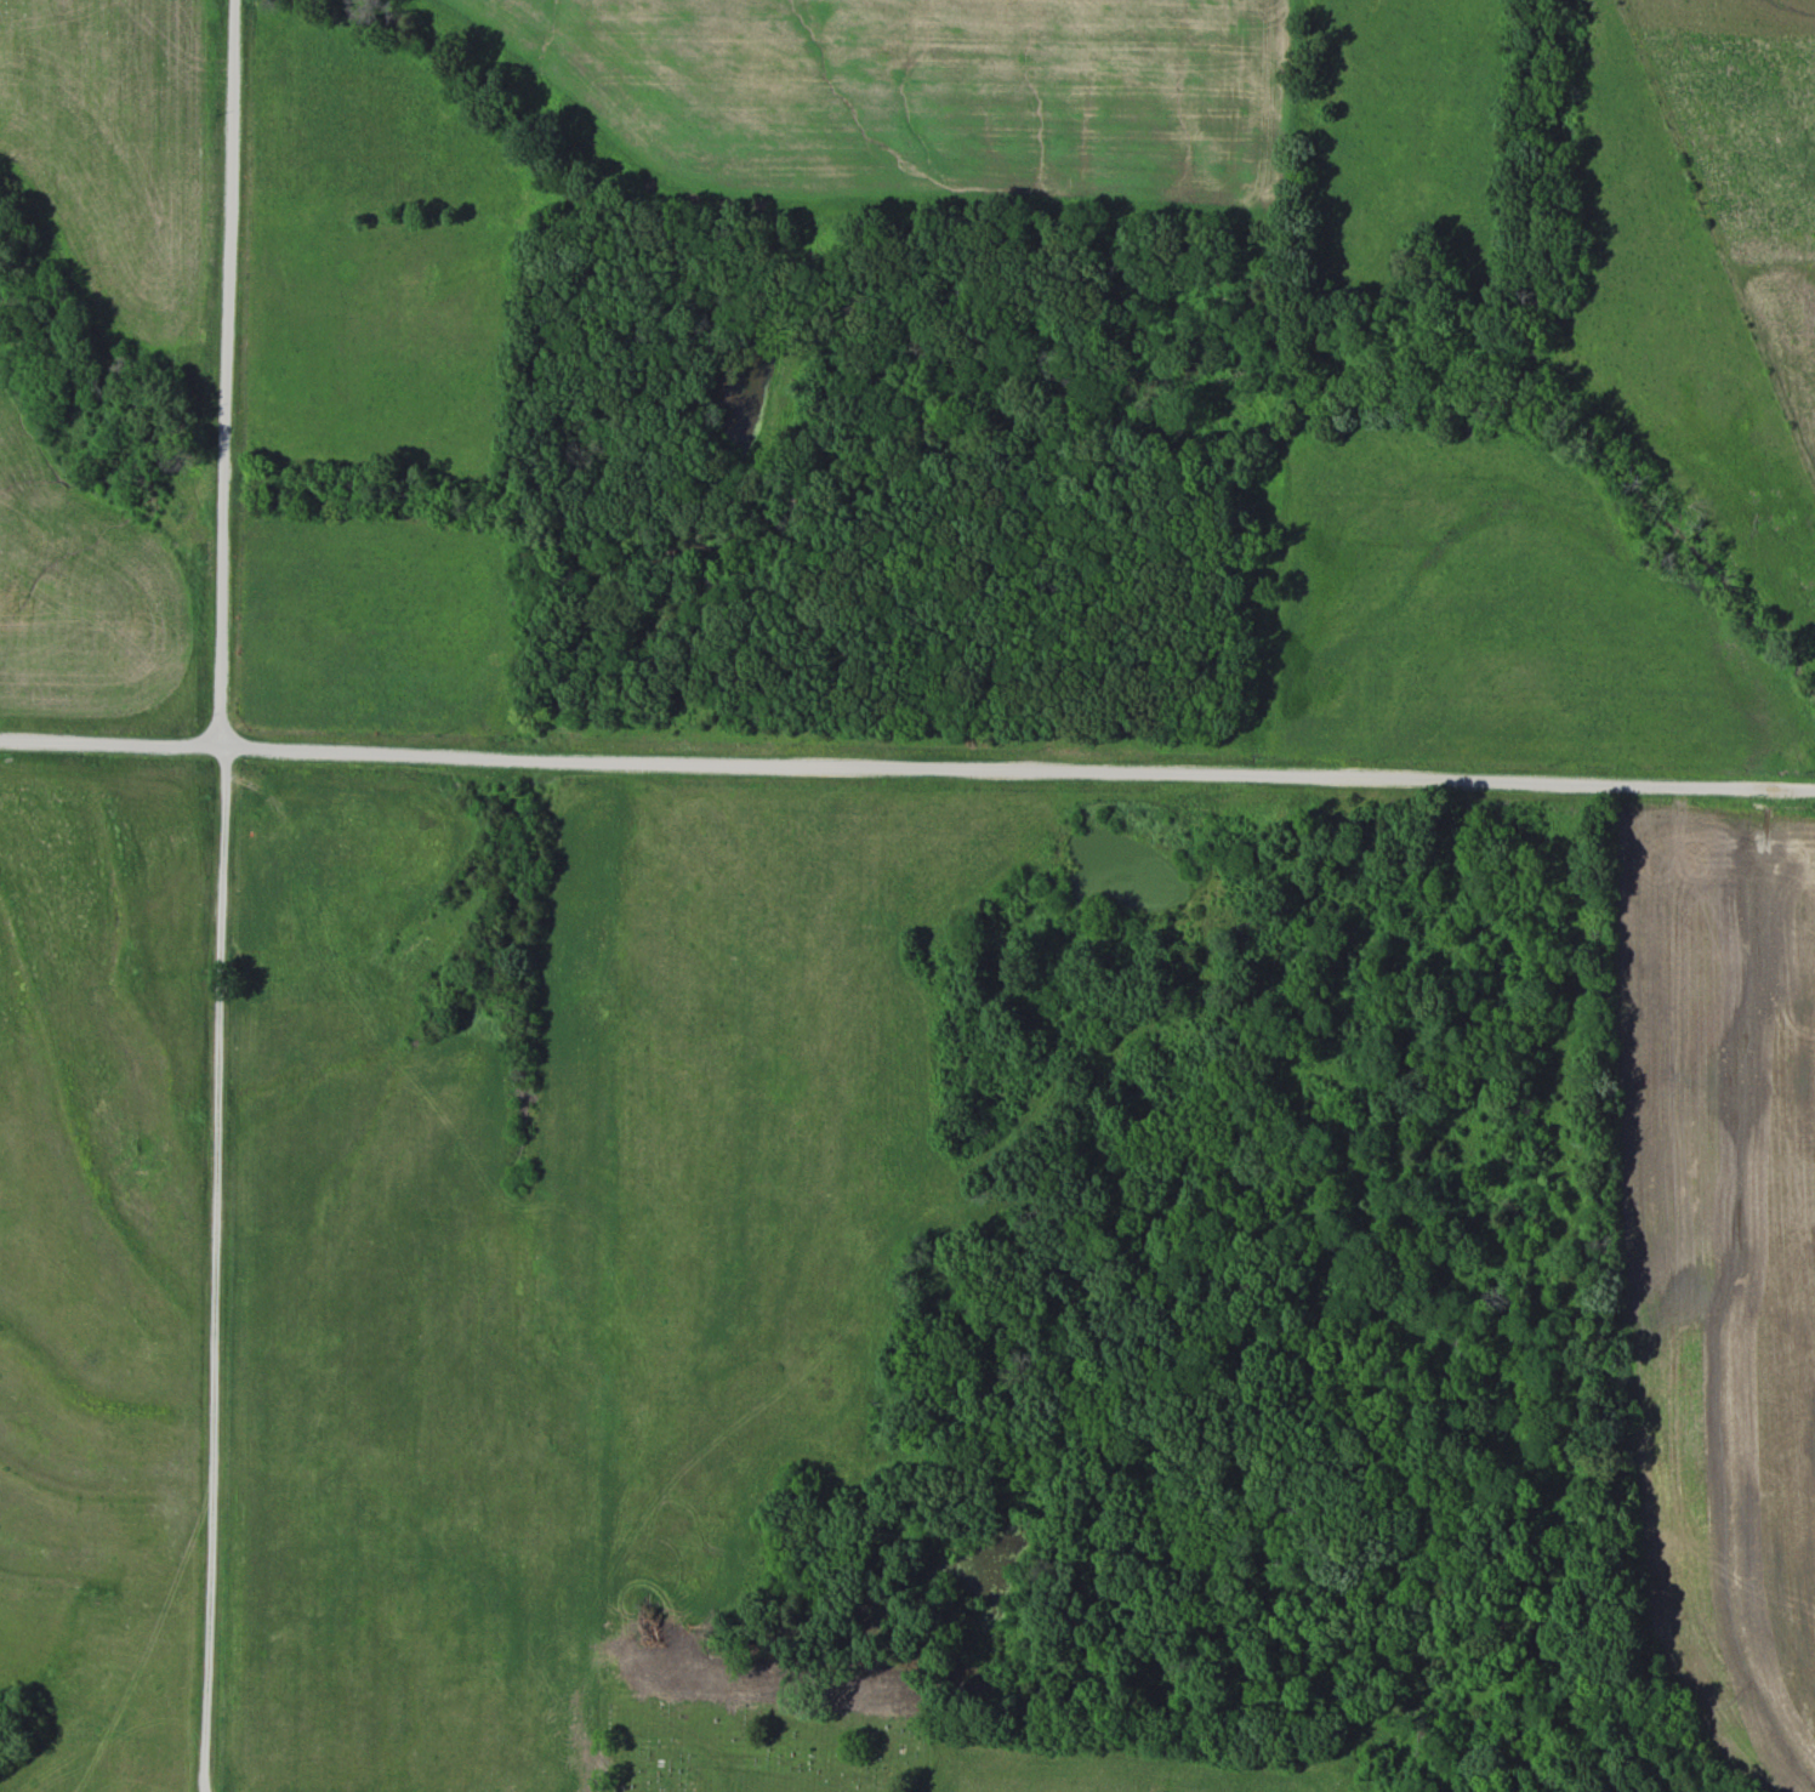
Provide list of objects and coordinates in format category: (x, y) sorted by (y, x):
road: (906, 769)
road: (226, 895)
park: (768, 1745)

